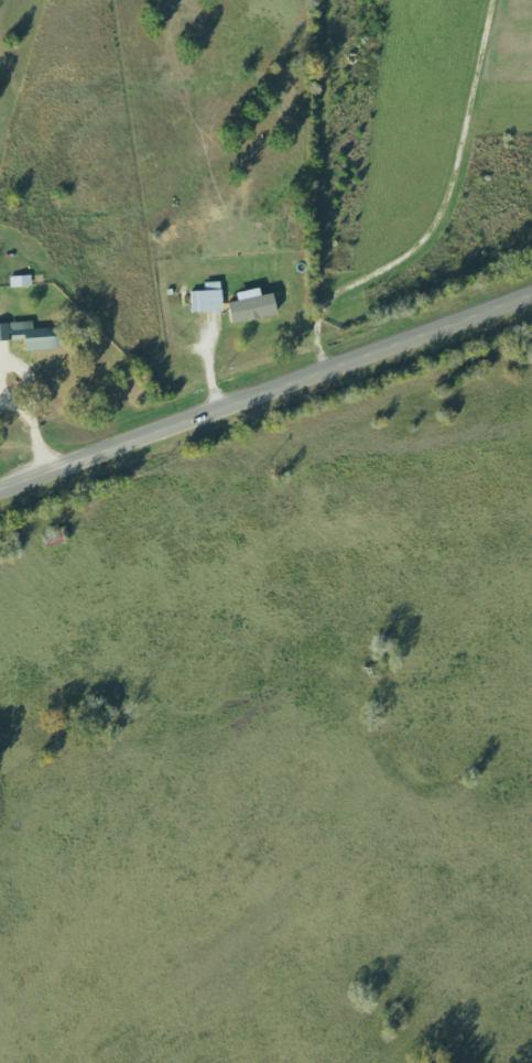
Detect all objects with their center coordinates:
building: (23, 281)
building: (211, 297)
building: (257, 305)
building: (7, 332)
building: (40, 336)
road: (265, 390)

